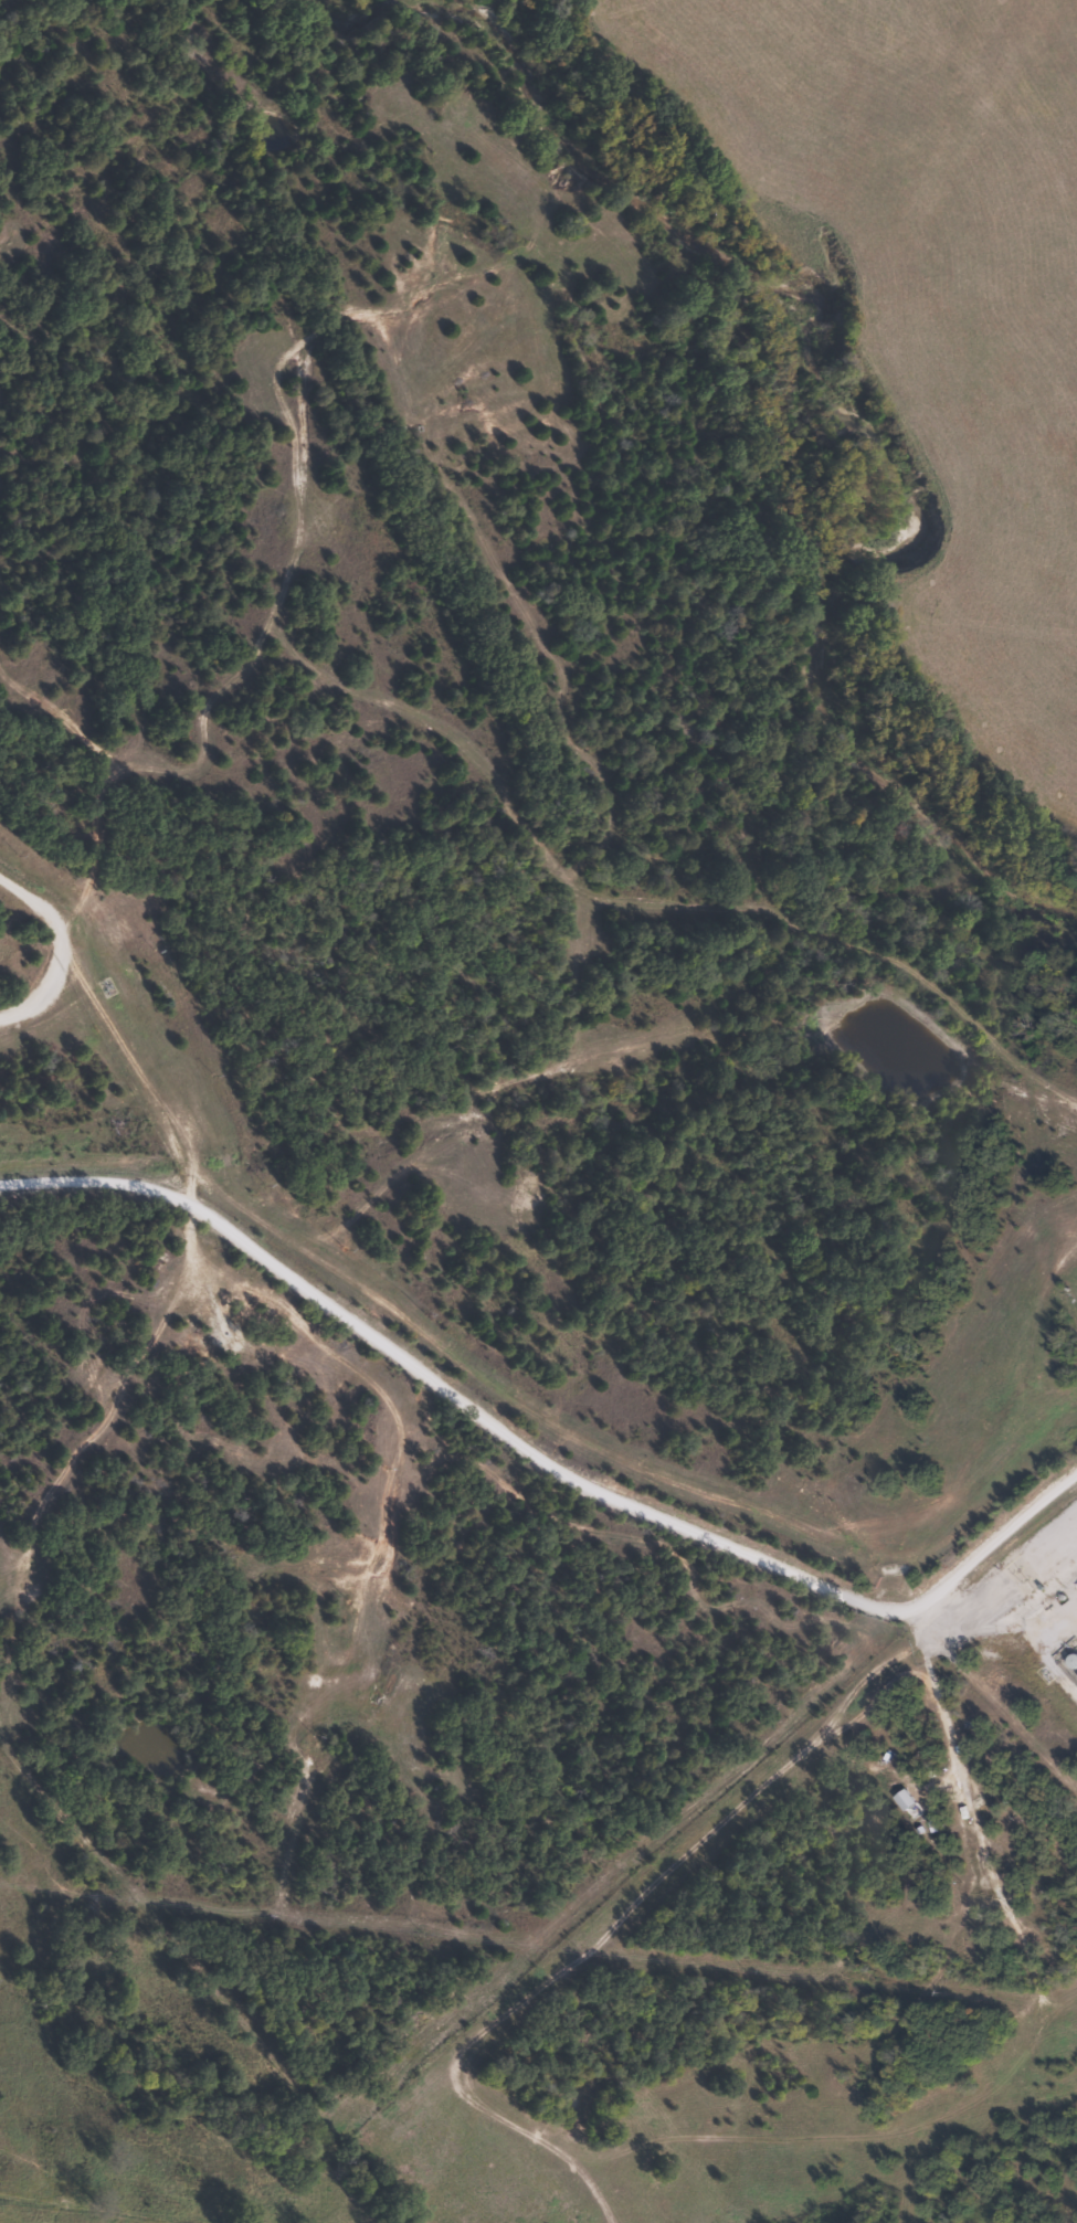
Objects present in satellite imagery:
road: (55, 949)
road: (543, 1454)
road: (996, 1631)

